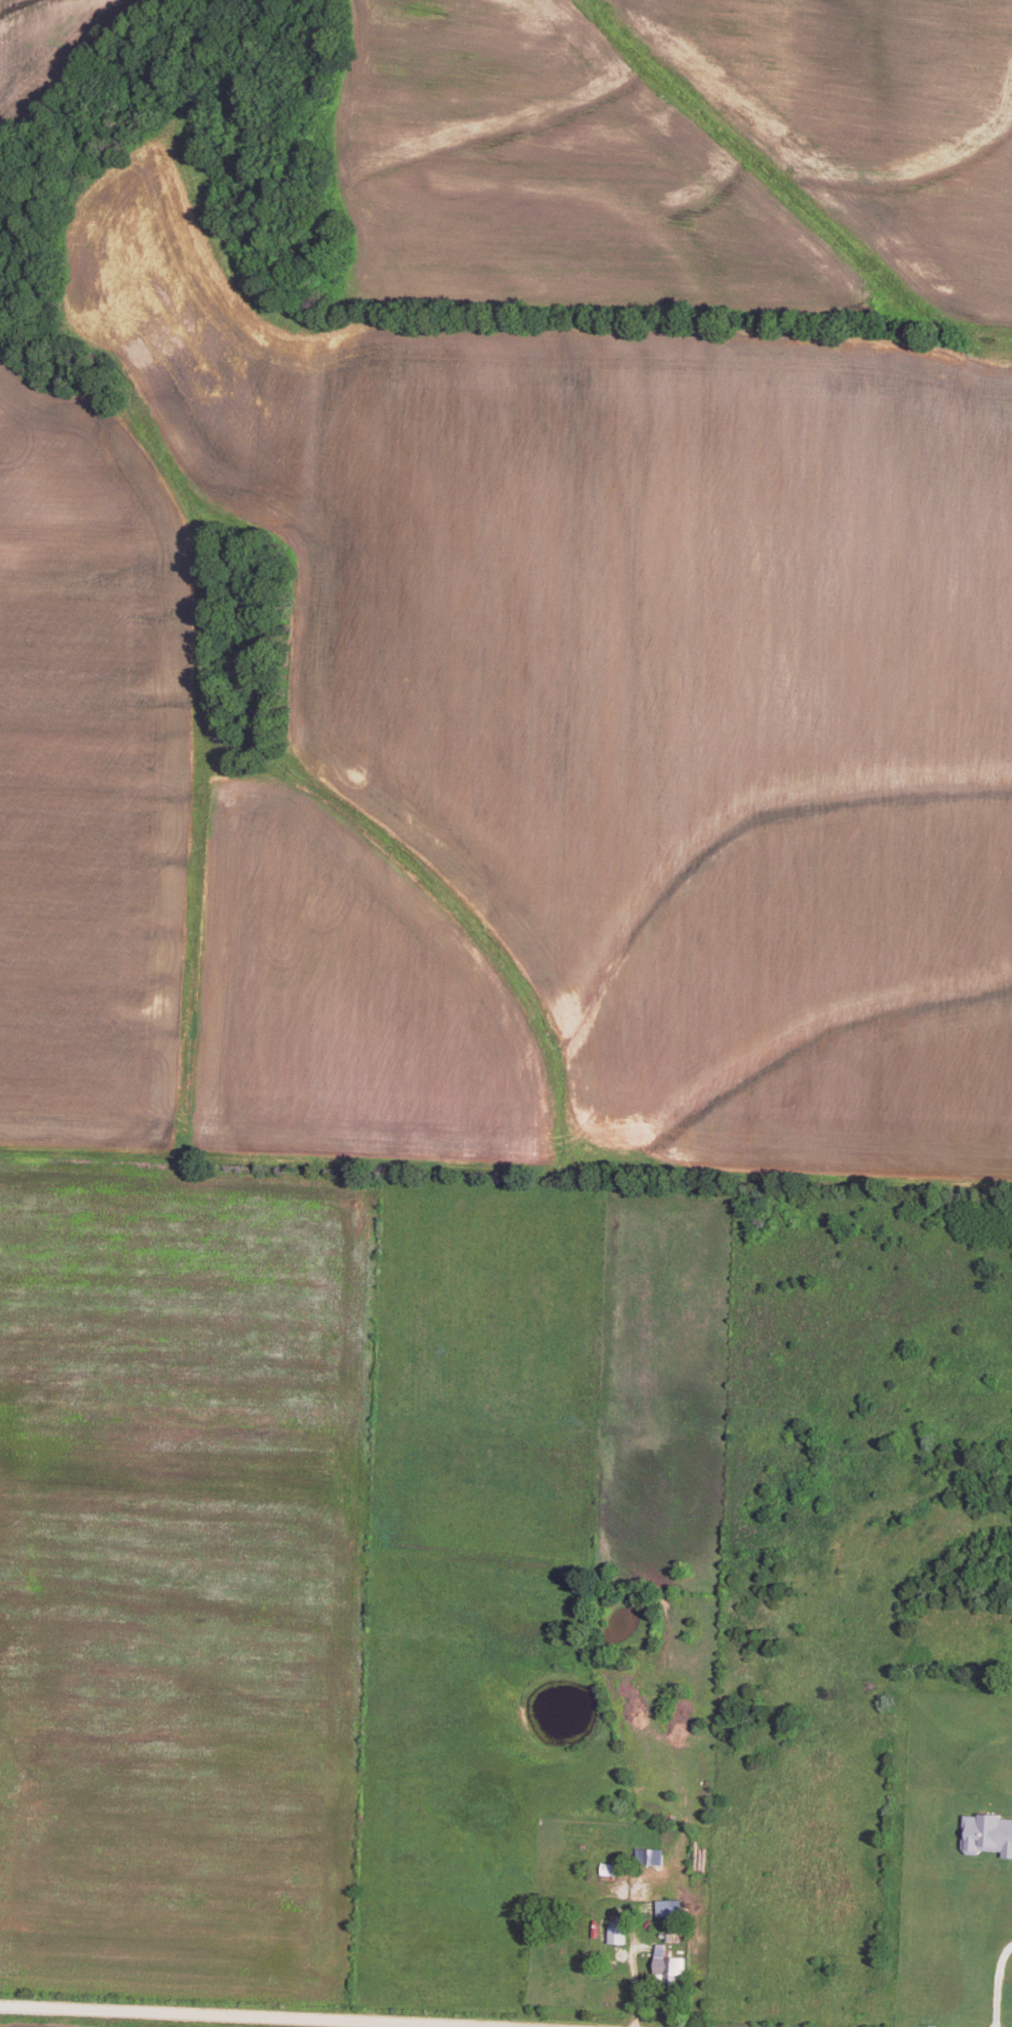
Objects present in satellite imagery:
building: (989, 1830)
building: (651, 1853)
building: (672, 1905)
building: (619, 1929)
road: (998, 1984)
road: (255, 2016)

